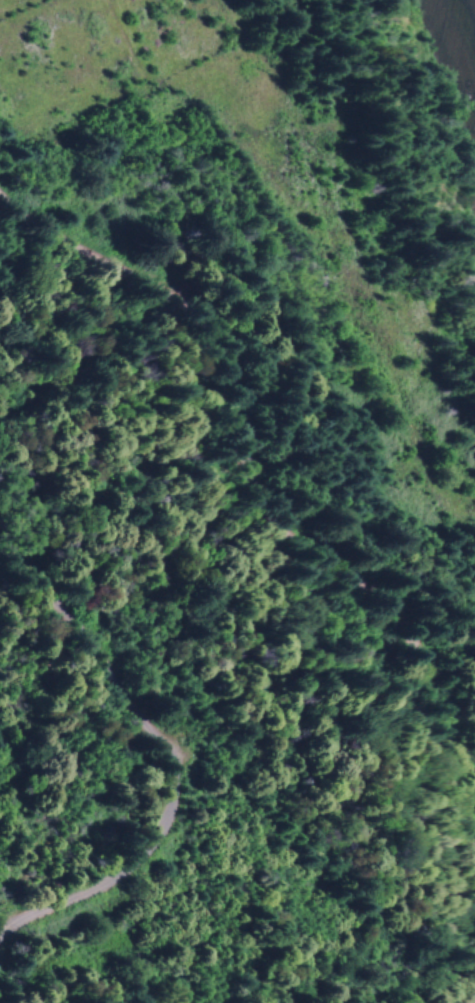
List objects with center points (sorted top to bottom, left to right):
river: (461, 49)
road: (251, 321)
road: (153, 754)

